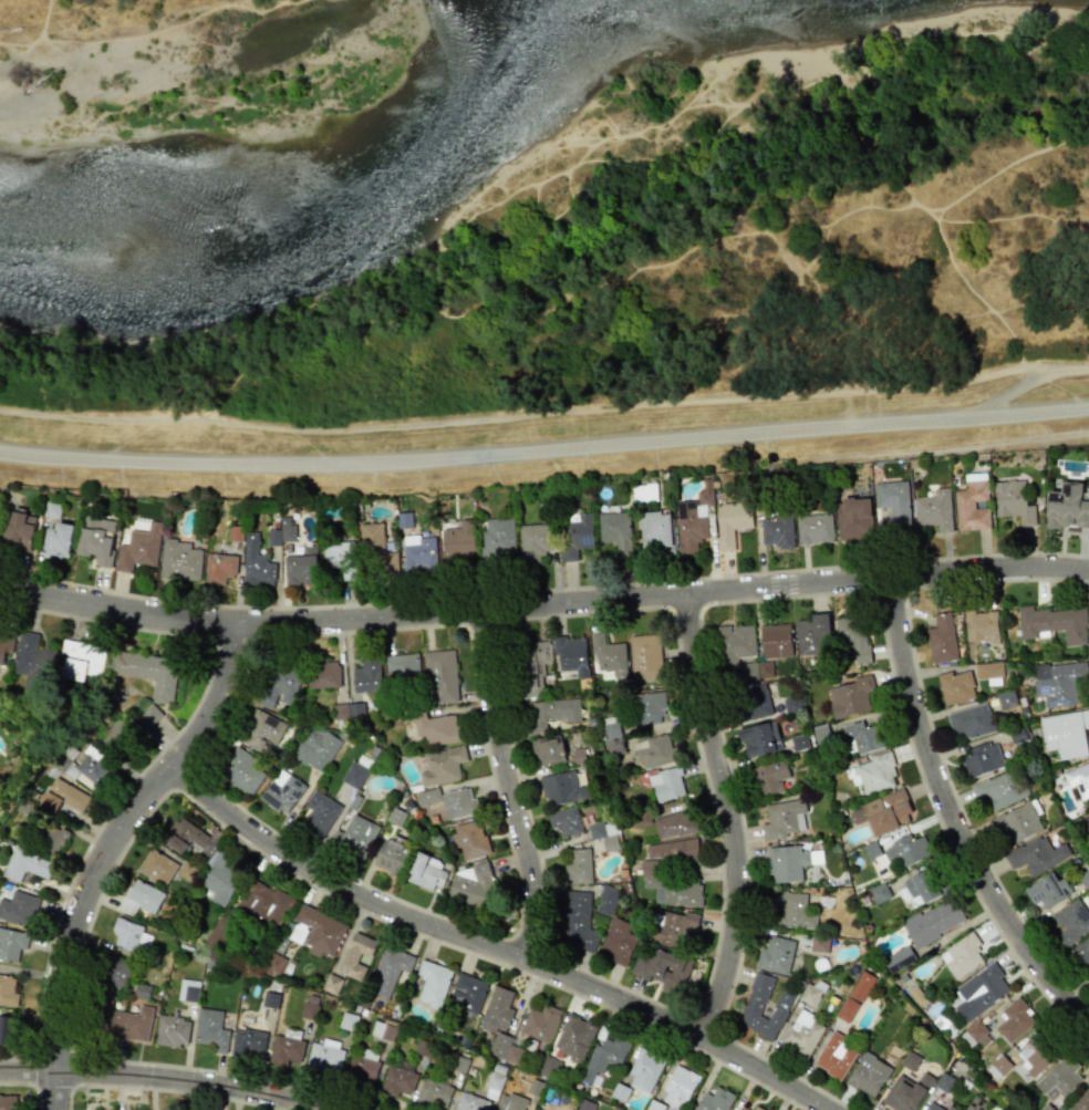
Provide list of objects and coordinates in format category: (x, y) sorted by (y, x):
river: (326, 184)
road: (1009, 394)
road: (544, 414)
road: (544, 450)
building: (644, 492)
building: (893, 501)
building: (1013, 501)
building: (972, 502)
building: (1067, 506)
building: (933, 509)
building: (852, 518)
building: (730, 521)
building: (19, 527)
building: (813, 528)
building: (287, 529)
building: (614, 529)
building: (777, 529)
building: (654, 530)
building: (575, 536)
building: (371, 537)
building: (497, 537)
building: (273, 538)
building: (96, 539)
building: (58, 540)
building: (536, 540)
building: (458, 541)
building: (138, 544)
building: (419, 553)
building: (340, 557)
building: (179, 560)
building: (256, 562)
building: (219, 567)
building: (301, 567)
road: (665, 591)
road: (120, 606)
building: (1054, 623)
building: (981, 626)
building: (811, 634)
building: (941, 637)
building: (776, 641)
building: (852, 642)
building: (734, 644)
building: (4, 646)
building: (571, 654)
building: (610, 656)
building: (644, 657)
building: (81, 658)
building: (32, 663)
building: (403, 664)
building: (536, 666)
road: (938, 670)
building: (989, 670)
building: (147, 671)
building: (324, 675)
building: (366, 675)
building: (440, 676)
building: (1059, 682)
building: (279, 685)
building: (956, 686)
building: (849, 696)
road: (219, 697)
building: (756, 702)
building: (649, 707)
building: (551, 713)
building: (144, 716)
building: (971, 722)
road: (929, 727)
building: (436, 728)
building: (263, 733)
building: (1065, 733)
building: (115, 735)
building: (861, 736)
building: (612, 737)
building: (759, 738)
building: (799, 743)
road: (967, 745)
building: (317, 749)
building: (654, 750)
building: (548, 751)
building: (982, 759)
building: (443, 765)
building: (87, 768)
building: (240, 769)
building: (873, 772)
building: (354, 775)
building: (769, 777)
building: (1078, 781)
road: (508, 784)
building: (666, 784)
building: (562, 788)
building: (998, 790)
building: (282, 792)
building: (63, 797)
building: (449, 801)
building: (320, 812)
building: (882, 812)
road: (726, 816)
road: (951, 817)
building: (784, 818)
building: (1087, 820)
building: (566, 821)
building: (1017, 823)
building: (674, 824)
building: (353, 834)
building: (604, 834)
building: (190, 837)
building: (53, 839)
building: (470, 840)
building: (674, 850)
building: (905, 851)
building: (391, 854)
building: (1037, 854)
building: (786, 862)
building: (25, 863)
building: (577, 865)
building: (156, 867)
building: (425, 872)
building: (222, 876)
building: (1085, 878)
building: (469, 884)
building: (923, 885)
building: (1047, 890)
building: (674, 891)
building: (879, 893)
building: (139, 898)
building: (606, 900)
building: (266, 903)
building: (18, 907)
road: (1048, 909)
building: (791, 910)
building: (575, 920)
building: (933, 921)
building: (1071, 921)
road: (74, 923)
building: (674, 927)
building: (318, 931)
building: (218, 933)
building: (131, 935)
building: (616, 942)
building: (11, 943)
building: (819, 944)
road: (491, 950)
building: (1081, 952)
building: (775, 954)
building: (355, 955)
building: (961, 955)
building: (899, 959)
building: (273, 964)
building: (663, 968)
building: (388, 972)
building: (118, 973)
building: (433, 983)
building: (332, 984)
road: (1076, 987)
building: (8, 990)
building: (188, 990)
building: (981, 990)
building: (467, 993)
building: (810, 994)
building: (854, 996)
building: (271, 999)
building: (754, 1004)
building: (309, 1010)
building: (1015, 1019)
building: (541, 1023)
building: (131, 1024)
building: (499, 1024)
building: (210, 1029)
building: (7, 1030)
building: (173, 1030)
building: (383, 1030)
building: (802, 1031)
building: (977, 1035)
building: (574, 1037)
building: (249, 1042)
building: (286, 1049)
building: (1035, 1054)
building: (836, 1055)
building: (325, 1056)
building: (603, 1056)
building: (363, 1066)
building: (998, 1067)
building: (645, 1069)
building: (868, 1073)
building: (1059, 1077)
road: (164, 1079)
building: (397, 1080)
building: (678, 1086)
building: (434, 1092)
building: (905, 1092)
building: (716, 1099)
building: (1080, 1101)
building: (8, 1102)
building: (470, 1102)
building: (512, 1102)
building: (932, 1107)
building: (757, 1108)
building: (950, 1108)
building: (135, 1109)
building: (537, 1109)
building: (738, 1109)

